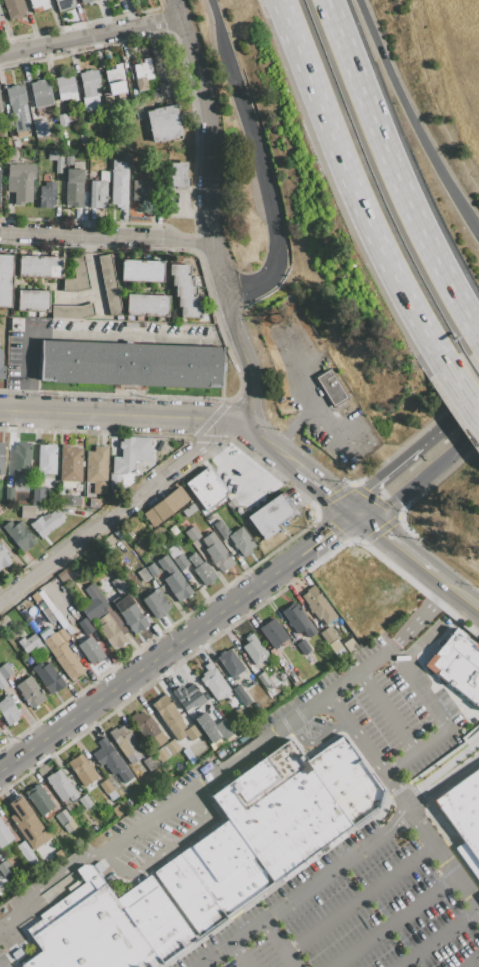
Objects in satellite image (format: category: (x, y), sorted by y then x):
building: (84, 1)
building: (37, 3)
building: (63, 4)
building: (14, 8)
road: (216, 15)
building: (1, 17)
road: (90, 37)
building: (143, 74)
park: (440, 74)
building: (114, 80)
building: (89, 82)
building: (65, 86)
road: (240, 91)
building: (40, 93)
building: (154, 95)
building: (18, 107)
building: (0, 109)
building: (68, 118)
road: (411, 119)
building: (62, 120)
building: (163, 123)
building: (39, 128)
building: (15, 143)
road: (208, 146)
building: (57, 159)
road: (394, 170)
building: (178, 175)
building: (20, 182)
road: (350, 183)
building: (119, 184)
building: (74, 185)
building: (99, 191)
building: (146, 191)
building: (47, 195)
road: (104, 234)
road: (276, 239)
building: (39, 266)
building: (179, 269)
building: (141, 270)
road: (93, 271)
building: (76, 276)
building: (5, 280)
building: (182, 280)
building: (109, 284)
building: (184, 290)
building: (32, 301)
building: (187, 301)
building: (146, 305)
building: (189, 311)
building: (71, 312)
building: (119, 317)
building: (288, 332)
road: (244, 359)
building: (130, 365)
building: (1, 368)
road: (28, 369)
building: (330, 388)
road: (459, 389)
road: (467, 407)
road: (117, 414)
building: (311, 427)
building: (338, 438)
road: (264, 441)
building: (356, 446)
road: (210, 453)
building: (130, 454)
building: (1, 458)
building: (21, 458)
building: (46, 458)
building: (356, 459)
road: (401, 461)
building: (70, 464)
building: (96, 465)
road: (272, 469)
road: (420, 480)
road: (236, 481)
building: (114, 482)
building: (78, 487)
building: (99, 488)
building: (206, 488)
road: (325, 488)
building: (9, 493)
building: (40, 495)
building: (70, 501)
building: (93, 503)
building: (165, 506)
road: (116, 510)
building: (27, 511)
building: (189, 511)
traffic signals: (355, 513)
building: (268, 516)
building: (46, 523)
building: (220, 528)
building: (192, 534)
building: (18, 536)
building: (241, 541)
road: (393, 543)
building: (173, 552)
building: (216, 552)
building: (3, 557)
building: (194, 559)
building: (181, 562)
building: (152, 570)
building: (203, 573)
building: (142, 575)
building: (62, 576)
building: (173, 579)
building: (119, 584)
road: (455, 592)
building: (94, 603)
building: (155, 603)
building: (317, 605)
building: (48, 615)
building: (130, 615)
building: (114, 618)
road: (419, 619)
building: (297, 620)
building: (85, 626)
building: (109, 631)
building: (272, 633)
building: (62, 634)
building: (327, 636)
road: (177, 642)
building: (32, 645)
building: (348, 645)
building: (303, 647)
building: (89, 649)
building: (336, 649)
building: (254, 650)
building: (61, 653)
building: (229, 664)
building: (458, 665)
building: (5, 671)
building: (47, 677)
building: (262, 679)
building: (272, 679)
building: (213, 682)
building: (2, 683)
building: (30, 692)
building: (241, 695)
building: (187, 697)
building: (8, 709)
road: (387, 711)
building: (169, 716)
building: (221, 728)
building: (146, 729)
building: (192, 732)
road: (356, 733)
road: (439, 734)
road: (313, 740)
building: (124, 744)
building: (171, 747)
road: (245, 752)
building: (161, 754)
building: (107, 756)
building: (150, 762)
building: (81, 769)
road: (448, 769)
building: (123, 774)
building: (119, 783)
building: (61, 785)
building: (105, 786)
building: (121, 793)
building: (111, 795)
building: (39, 799)
building: (85, 801)
building: (128, 802)
building: (118, 808)
building: (463, 816)
building: (63, 817)
building: (26, 822)
building: (69, 826)
building: (268, 827)
building: (4, 834)
road: (167, 848)
building: (26, 853)
road: (442, 858)
building: (5, 868)
road: (46, 882)
road: (312, 883)
road: (360, 897)
parking lot: (355, 907)
road: (390, 921)
building: (107, 927)
road: (433, 936)
road: (281, 942)
road: (239, 955)
parking lot: (4, 960)
road: (471, 961)

